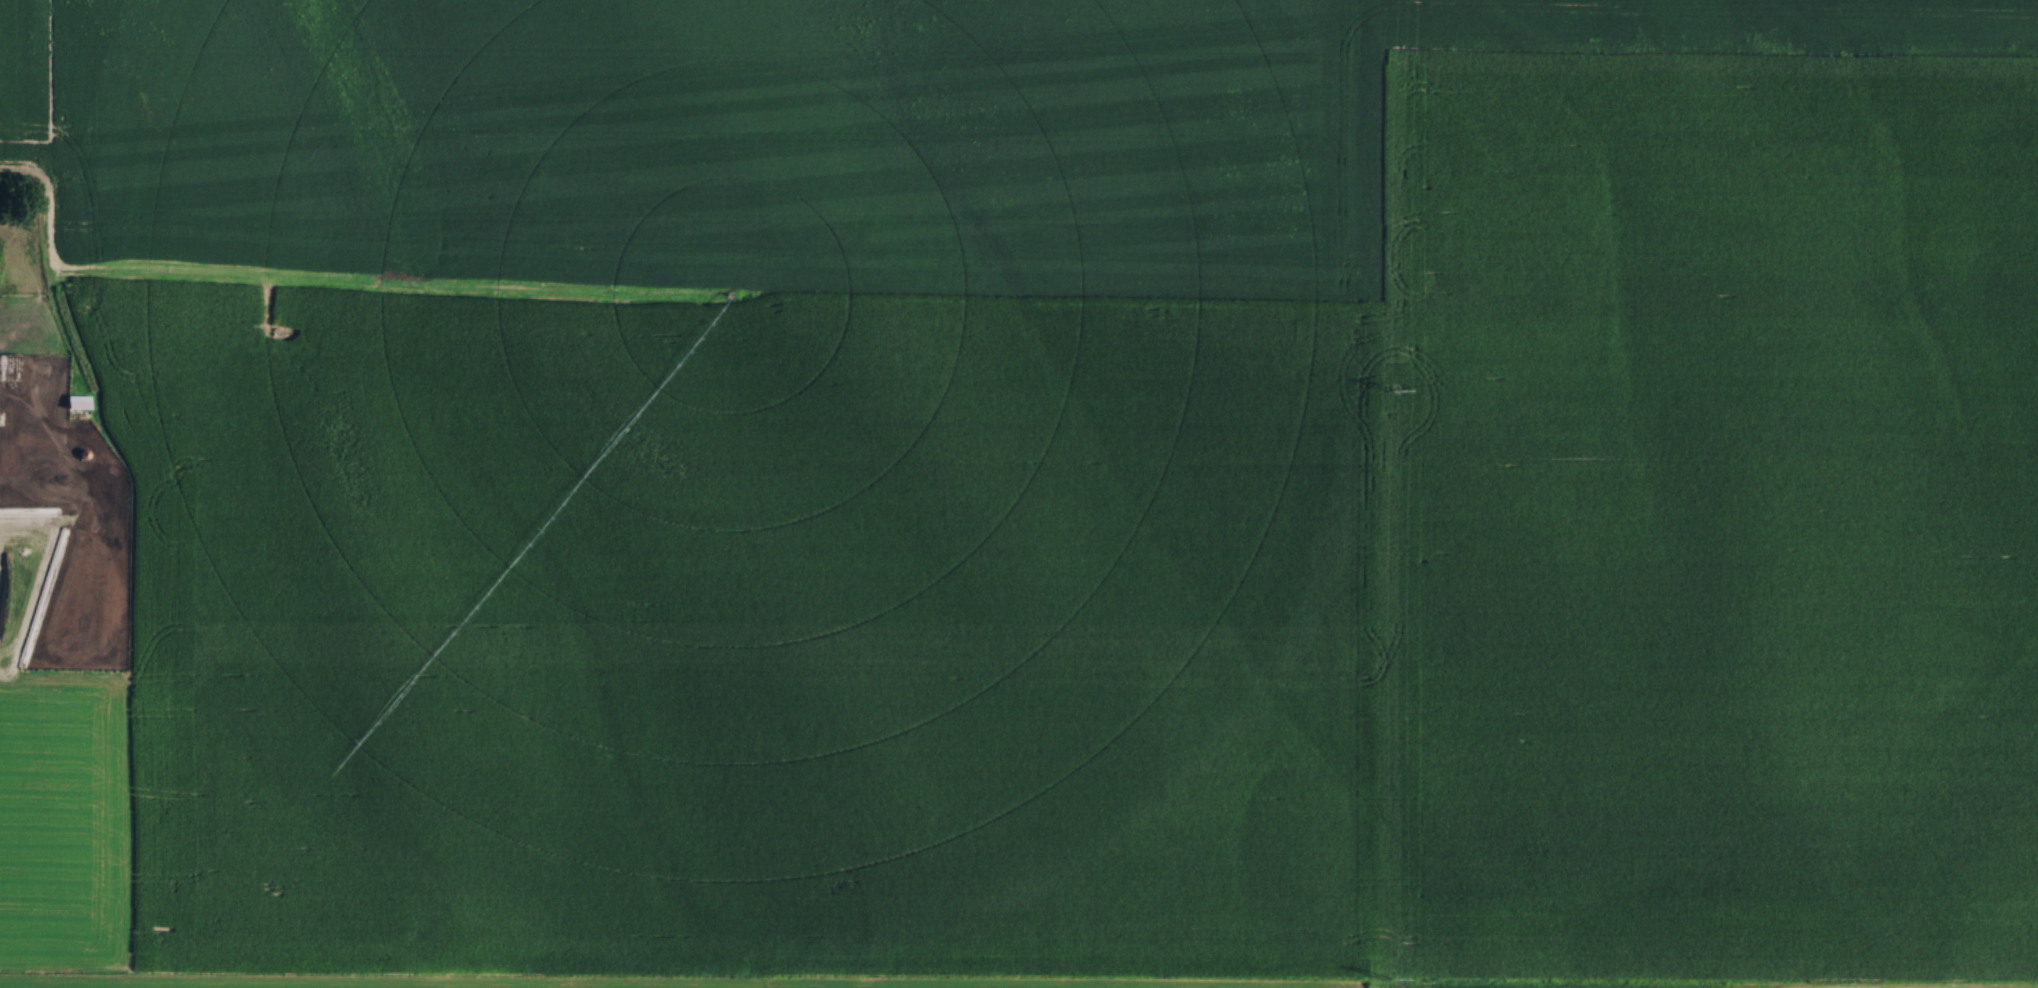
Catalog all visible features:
power tower: (1395, 390)
building: (78, 402)
power tower: (1385, 980)

